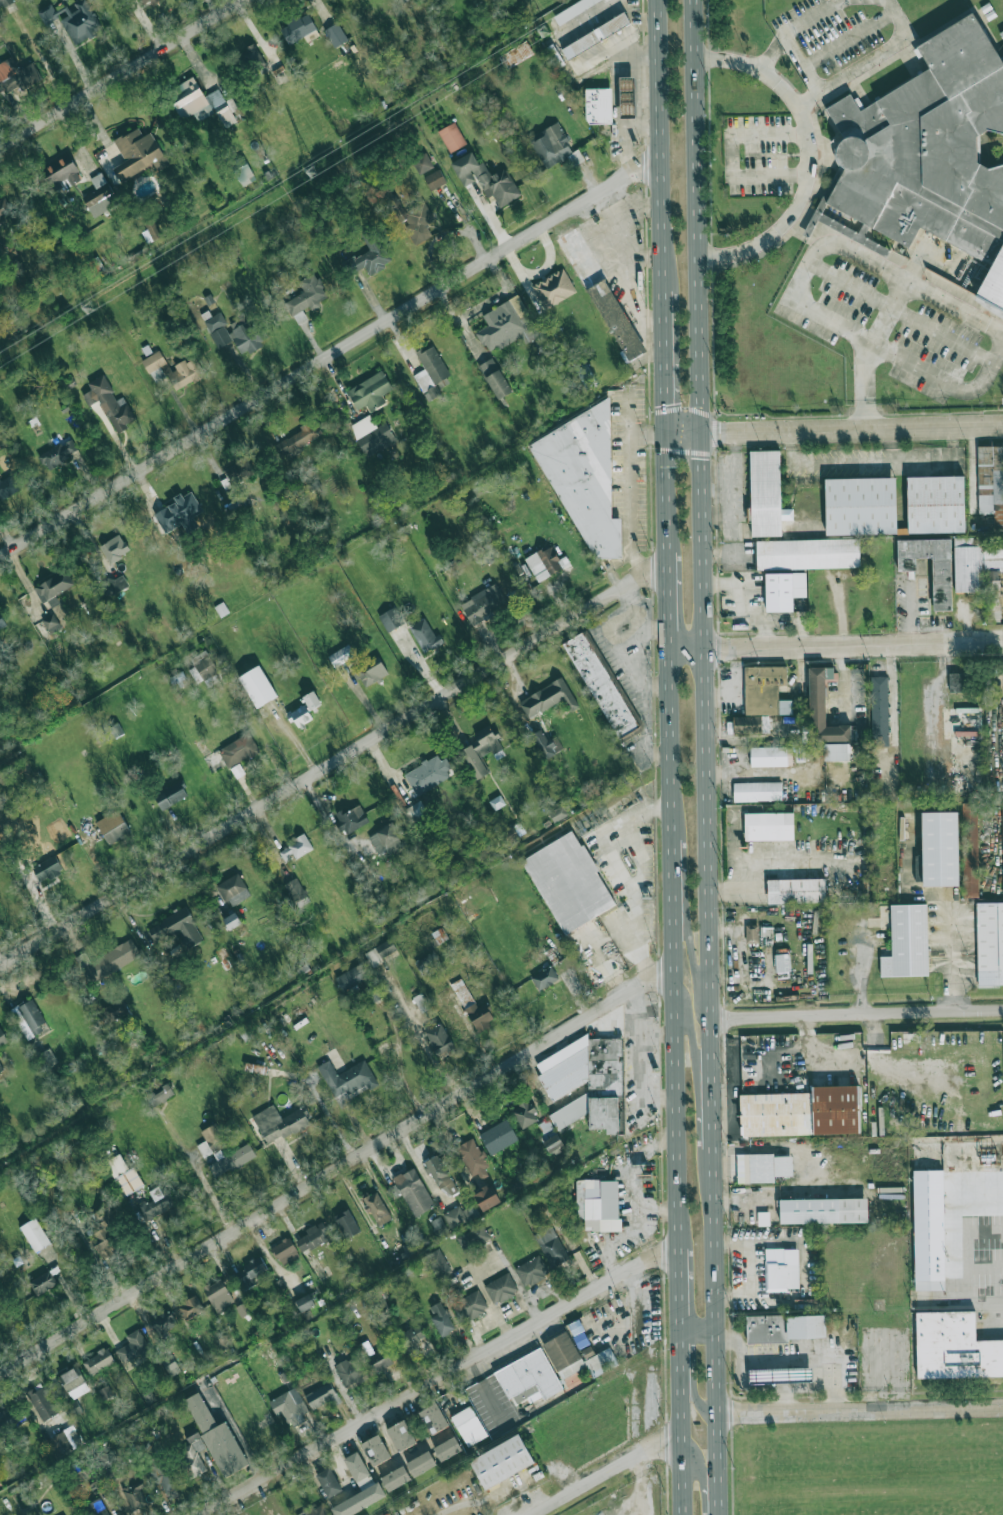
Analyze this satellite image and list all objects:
building: (405, 0)
building: (5, 2)
building: (146, 2)
building: (574, 10)
road: (898, 19)
building: (73, 20)
building: (298, 28)
power tower: (544, 31)
building: (1001, 33)
road: (783, 34)
building: (336, 35)
building: (595, 35)
road: (849, 40)
road: (39, 55)
building: (516, 55)
building: (555, 57)
building: (1002, 57)
building: (254, 59)
road: (852, 71)
road: (119, 72)
building: (17, 74)
building: (627, 97)
building: (201, 103)
building: (598, 105)
building: (451, 136)
road: (659, 137)
building: (553, 146)
building: (931, 151)
building: (137, 153)
road: (732, 156)
road: (811, 157)
building: (422, 163)
building: (242, 171)
power tower: (314, 174)
building: (485, 178)
building: (434, 179)
building: (100, 196)
building: (4, 209)
building: (411, 219)
building: (151, 232)
road: (846, 249)
road: (924, 249)
building: (371, 253)
building: (553, 288)
building: (601, 292)
building: (306, 297)
power tower: (92, 307)
road: (888, 311)
road: (901, 314)
building: (507, 324)
building: (235, 333)
road: (664, 353)
road: (330, 359)
building: (173, 369)
building: (431, 372)
building: (586, 376)
building: (494, 378)
road: (945, 382)
road: (864, 385)
building: (370, 391)
building: (109, 402)
road: (628, 416)
road: (852, 429)
road: (684, 433)
traffic signals: (702, 433)
traffic signals: (666, 434)
building: (371, 435)
building: (298, 439)
building: (58, 453)
building: (239, 471)
building: (584, 477)
building: (991, 481)
building: (8, 485)
road: (629, 487)
building: (766, 493)
road: (667, 503)
building: (937, 504)
building: (862, 506)
building: (178, 511)
building: (114, 548)
building: (808, 553)
building: (993, 553)
building: (544, 562)
building: (967, 564)
building: (114, 583)
building: (52, 587)
building: (942, 590)
building: (780, 592)
building: (993, 595)
road: (748, 599)
building: (484, 603)
road: (668, 612)
road: (910, 615)
building: (391, 619)
building: (2, 621)
building: (50, 623)
building: (425, 635)
road: (835, 646)
building: (341, 655)
building: (208, 668)
building: (370, 672)
building: (957, 682)
building: (257, 686)
building: (602, 686)
building: (857, 687)
building: (547, 697)
building: (761, 698)
building: (311, 700)
road: (890, 706)
building: (822, 711)
building: (879, 711)
building: (300, 715)
building: (545, 744)
building: (238, 750)
building: (481, 750)
building: (837, 752)
building: (769, 756)
road: (709, 757)
road: (333, 762)
building: (237, 770)
building: (428, 774)
road: (759, 778)
building: (757, 791)
building: (171, 794)
building: (0, 798)
building: (495, 802)
building: (414, 811)
building: (1002, 817)
building: (352, 818)
building: (769, 826)
building: (113, 827)
building: (385, 839)
building: (295, 848)
building: (940, 849)
building: (970, 850)
road: (766, 866)
building: (46, 868)
road: (619, 868)
building: (918, 868)
building: (568, 881)
building: (233, 889)
building: (797, 891)
building: (295, 893)
building: (0, 908)
building: (231, 920)
building: (176, 928)
road: (687, 928)
building: (751, 932)
building: (437, 936)
building: (908, 941)
building: (990, 943)
building: (380, 951)
road: (739, 954)
building: (108, 960)
road: (953, 961)
building: (428, 963)
building: (782, 963)
building: (352, 976)
building: (544, 977)
building: (373, 992)
building: (421, 1002)
building: (472, 1007)
road: (858, 1014)
building: (29, 1018)
road: (417, 1033)
building: (2, 1039)
building: (439, 1039)
road: (397, 1049)
road: (851, 1053)
road: (793, 1055)
building: (1, 1068)
building: (346, 1078)
road: (676, 1083)
road: (733, 1087)
building: (605, 1088)
building: (164, 1093)
road: (697, 1094)
building: (803, 1112)
road: (327, 1113)
building: (524, 1114)
building: (279, 1123)
building: (497, 1136)
building: (214, 1137)
building: (552, 1143)
building: (472, 1157)
building: (231, 1160)
building: (762, 1167)
road: (334, 1170)
road: (812, 1170)
building: (123, 1174)
building: (441, 1176)
building: (413, 1191)
building: (486, 1197)
building: (939, 1198)
building: (158, 1202)
building: (598, 1204)
building: (377, 1208)
building: (823, 1210)
building: (460, 1215)
building: (346, 1224)
building: (439, 1226)
building: (34, 1234)
building: (312, 1237)
building: (473, 1237)
building: (105, 1243)
building: (551, 1246)
road: (971, 1247)
building: (285, 1250)
building: (438, 1262)
road: (490, 1265)
road: (746, 1268)
building: (781, 1269)
building: (532, 1270)
building: (251, 1271)
building: (42, 1282)
building: (500, 1287)
building: (218, 1294)
building: (305, 1302)
building: (470, 1305)
building: (190, 1307)
building: (440, 1318)
building: (164, 1322)
building: (786, 1327)
road: (698, 1331)
building: (407, 1340)
building: (132, 1346)
building: (955, 1347)
building: (577, 1355)
road: (797, 1355)
road: (798, 1360)
building: (98, 1361)
building: (377, 1361)
road: (764, 1361)
road: (781, 1361)
building: (168, 1363)
building: (350, 1371)
road: (798, 1373)
road: (765, 1374)
road: (781, 1374)
building: (780, 1375)
building: (527, 1378)
road: (441, 1379)
road: (690, 1379)
road: (799, 1382)
building: (73, 1383)
road: (765, 1383)
road: (776, 1386)
building: (104, 1392)
building: (322, 1396)
road: (782, 1396)
building: (41, 1402)
building: (288, 1405)
building: (73, 1408)
road: (860, 1409)
building: (10, 1417)
building: (433, 1418)
building: (468, 1425)
building: (400, 1435)
building: (216, 1437)
road: (237, 1438)
building: (63, 1441)
building: (0, 1448)
building: (447, 1448)
building: (0, 1449)
building: (375, 1449)
building: (192, 1455)
building: (501, 1461)
building: (420, 1463)
building: (108, 1465)
building: (357, 1469)
road: (605, 1473)
road: (702, 1476)
building: (395, 1478)
building: (163, 1479)
building: (329, 1482)
building: (134, 1494)
building: (358, 1501)
building: (96, 1507)
building: (317, 1511)

